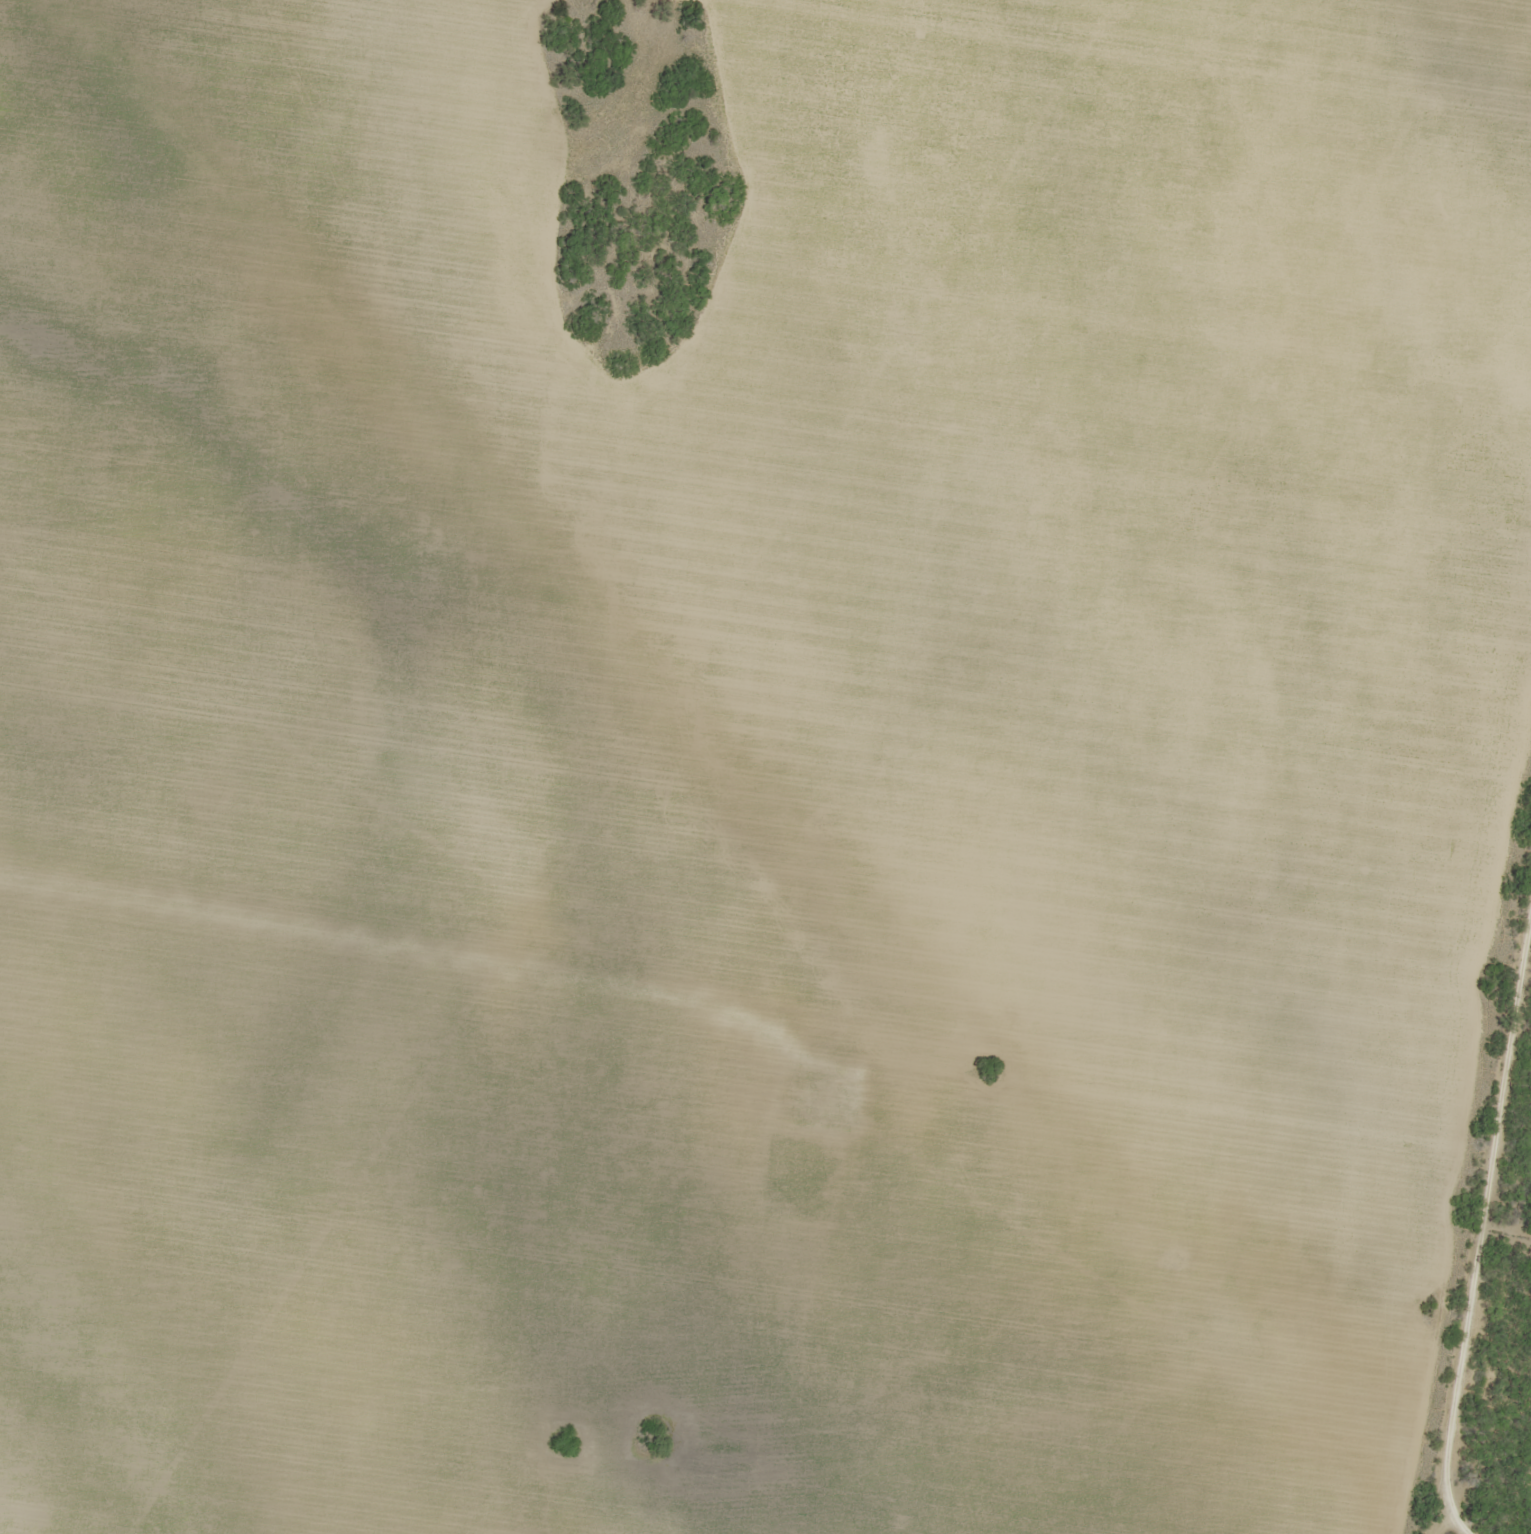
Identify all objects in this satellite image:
road: (740, 771)
road: (462, 1002)

